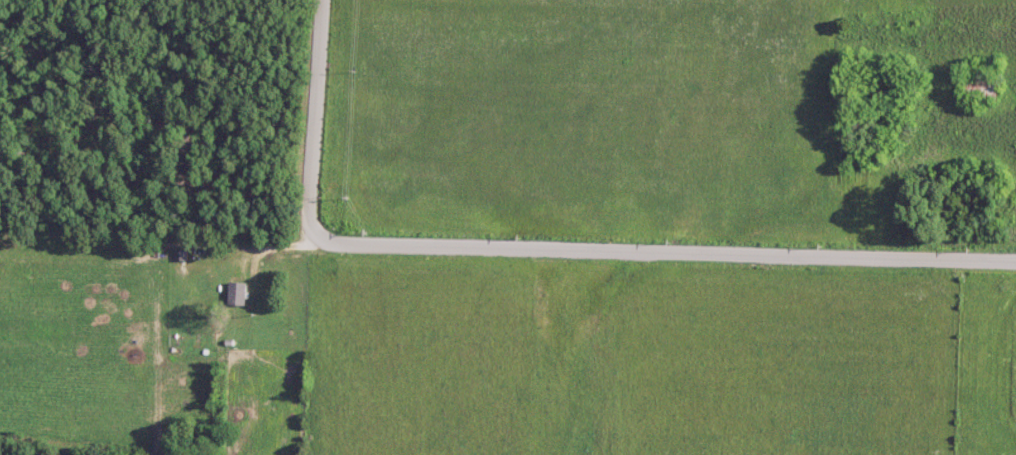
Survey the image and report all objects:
road: (547, 248)
building: (238, 293)

